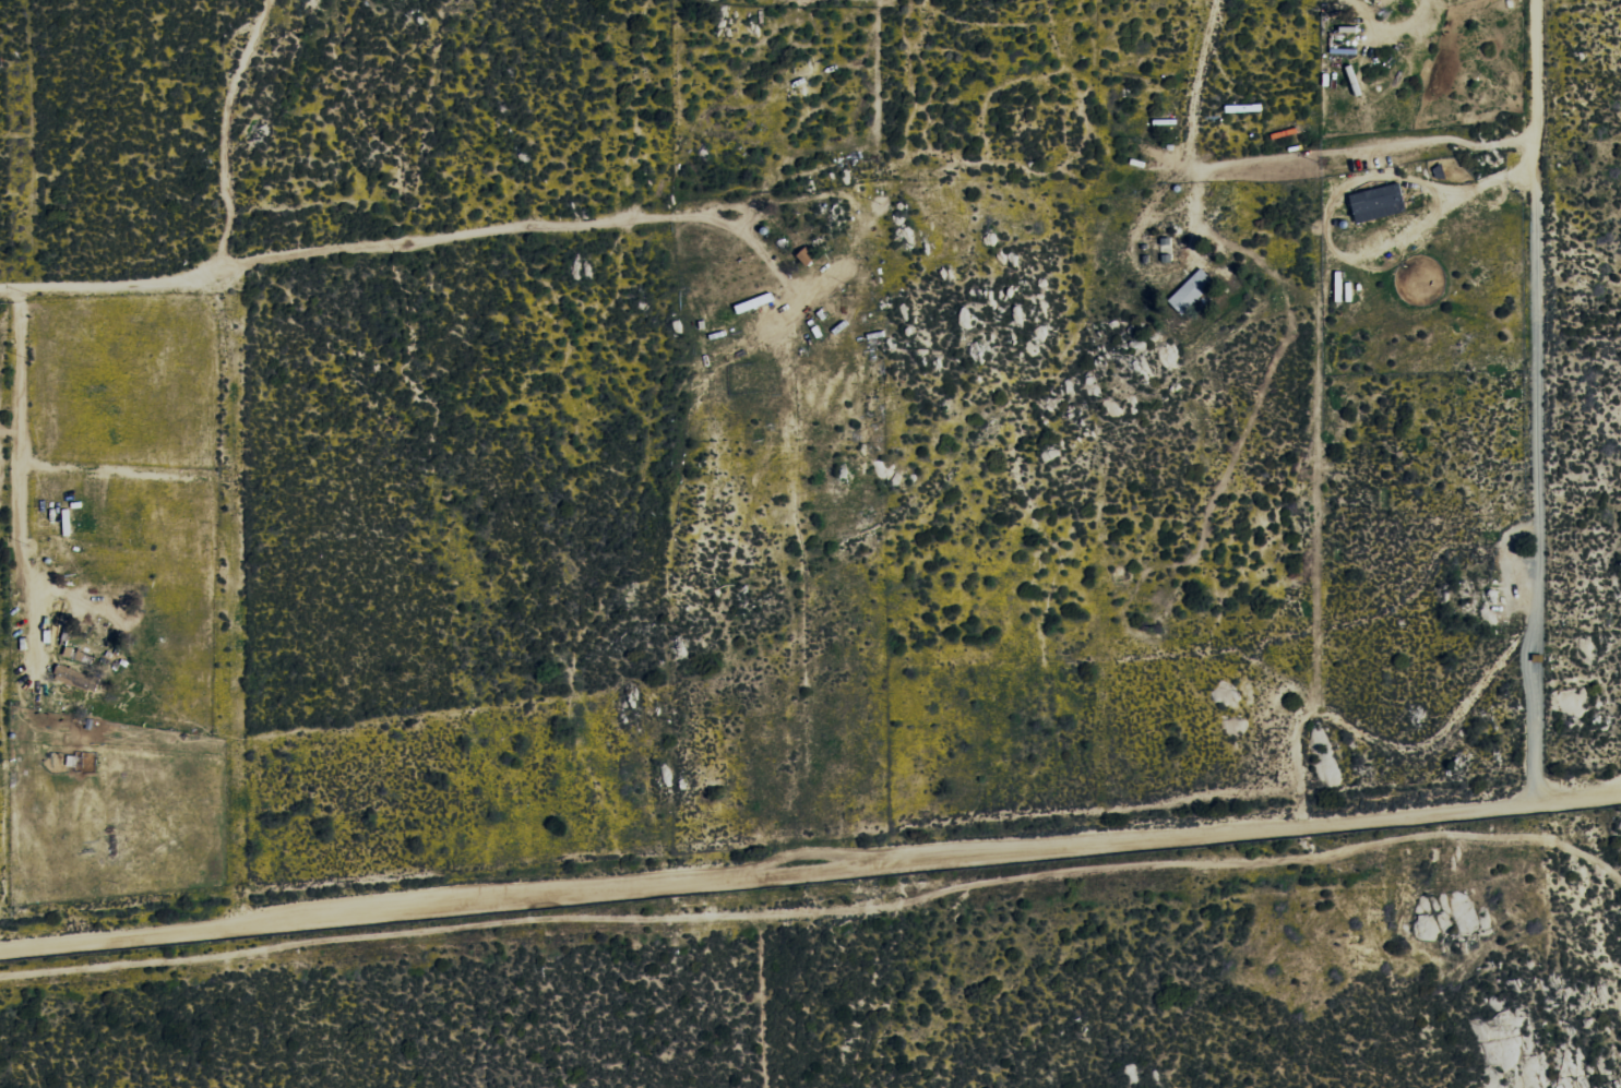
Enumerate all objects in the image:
building: (1378, 203)
building: (1191, 291)
building: (72, 677)
road: (810, 863)
road: (818, 914)

